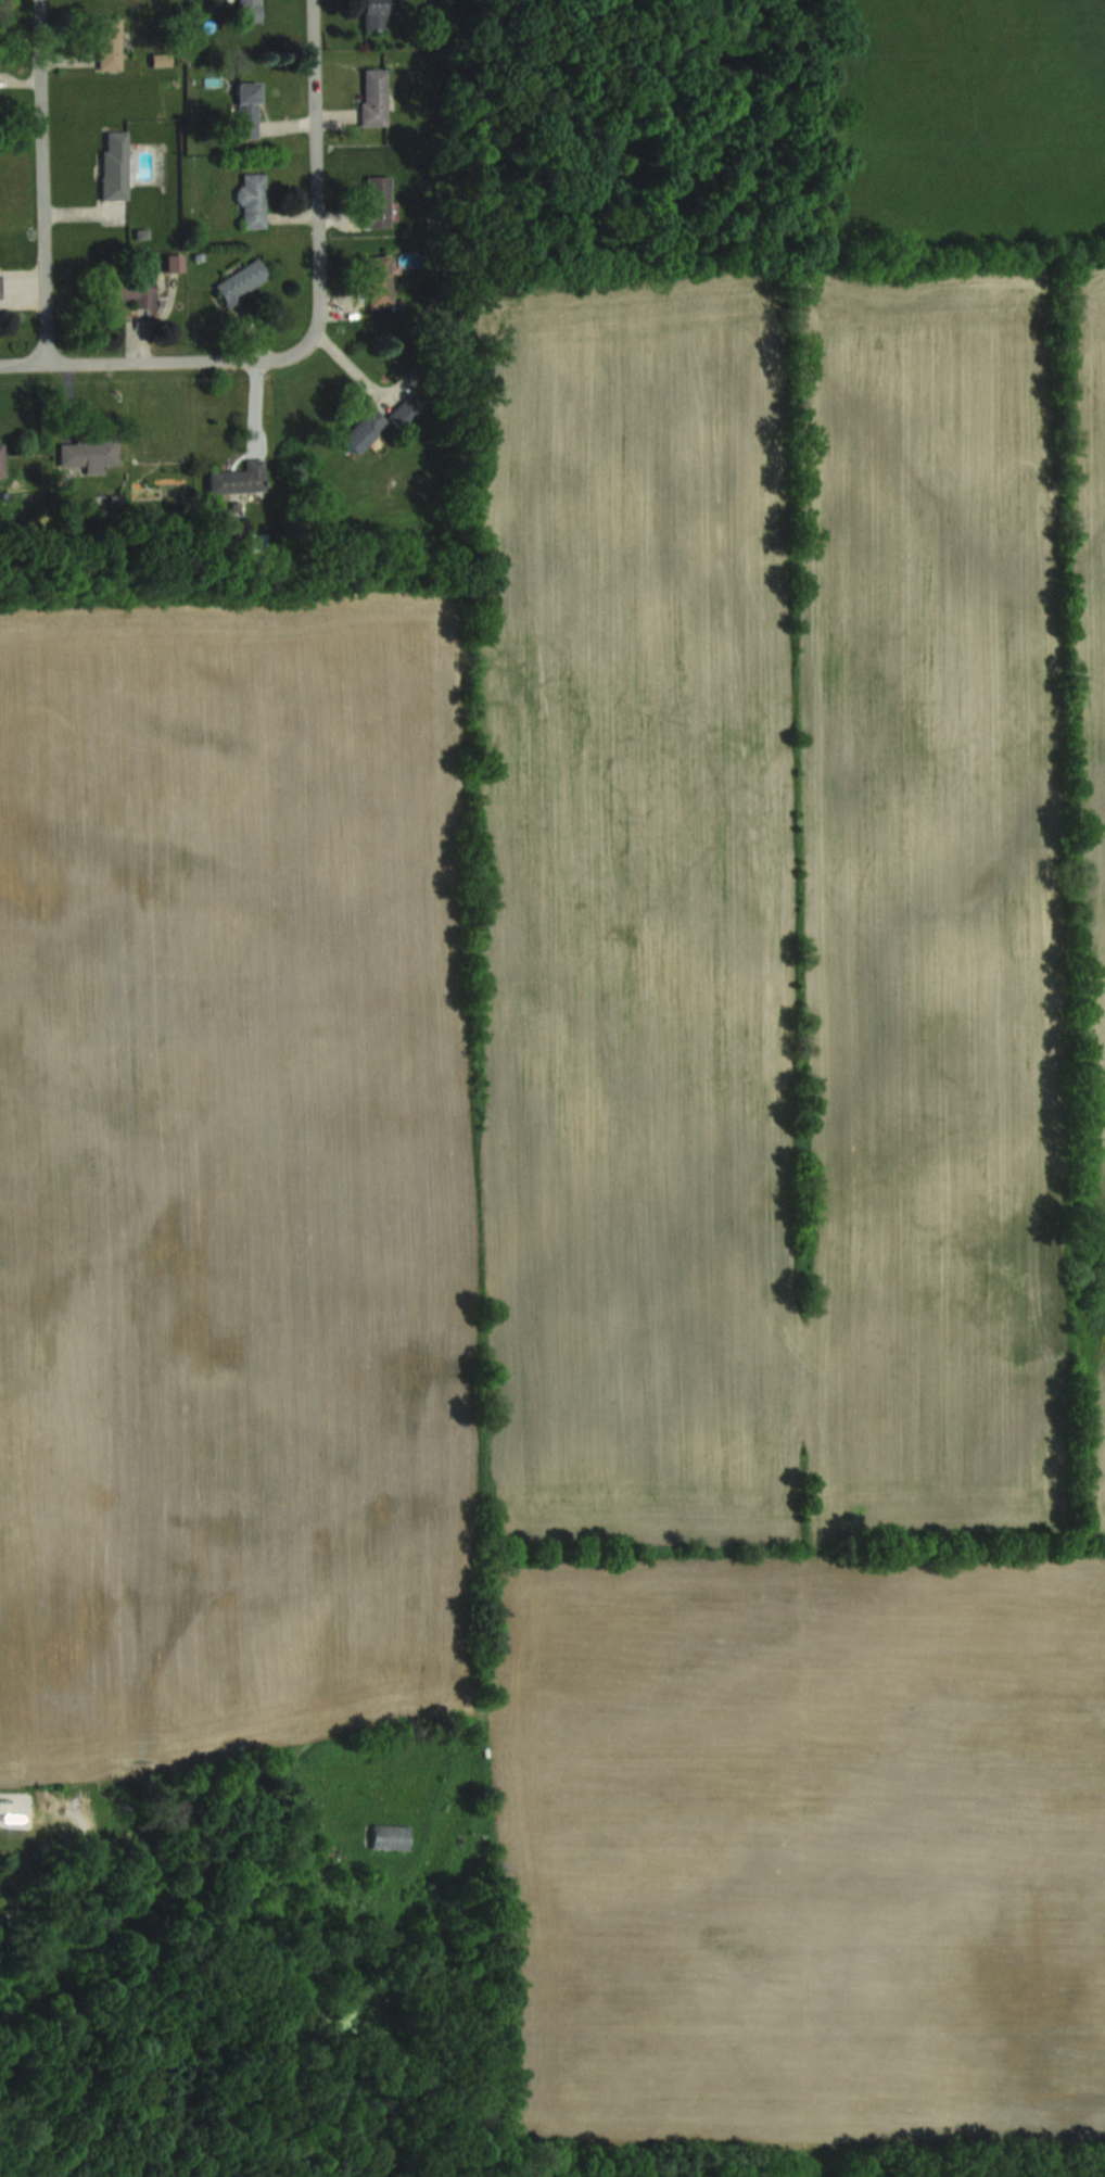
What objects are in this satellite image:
building: (249, 10)
building: (373, 14)
building: (110, 42)
building: (373, 97)
building: (247, 109)
building: (114, 164)
road: (321, 175)
road: (43, 180)
building: (252, 199)
building: (377, 201)
building: (241, 282)
building: (379, 282)
building: (131, 288)
building: (0, 290)
road: (153, 358)
building: (408, 410)
building: (363, 430)
building: (89, 455)
building: (2, 460)
building: (240, 479)
crop: (627, 1132)
building: (390, 1836)

